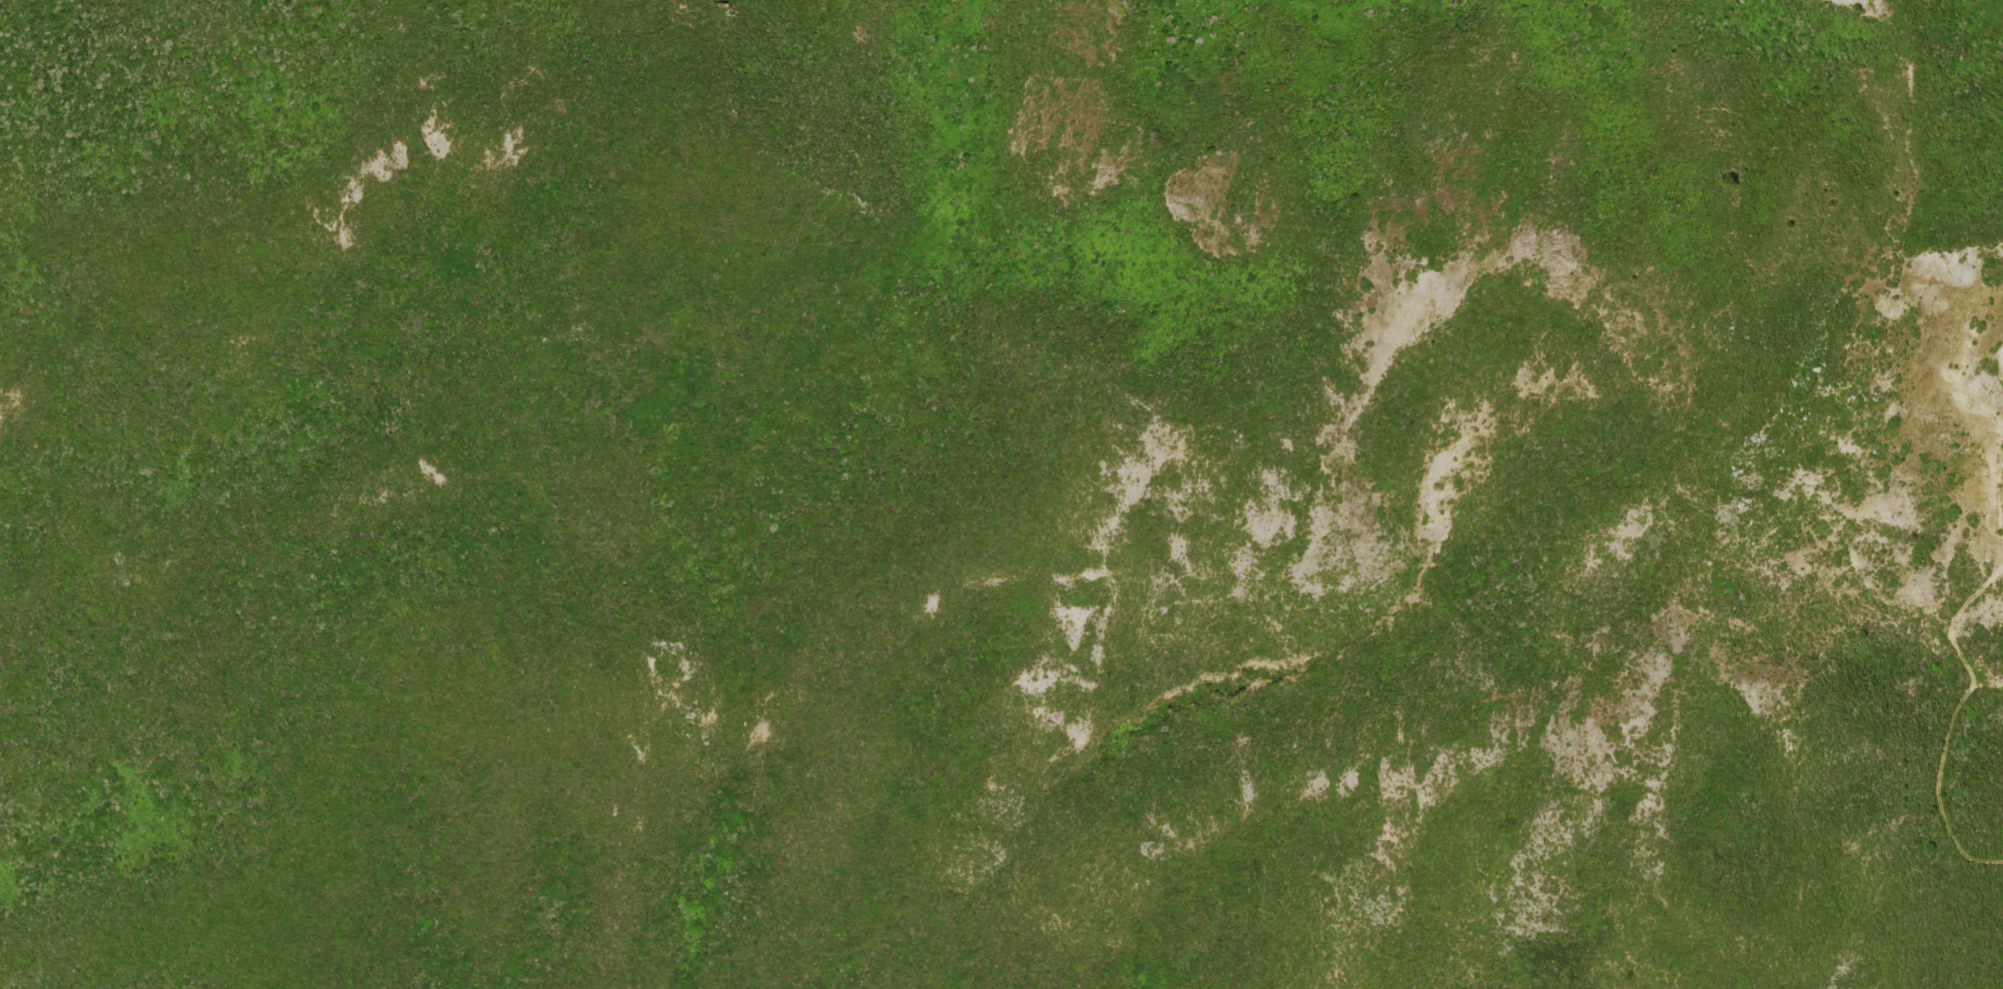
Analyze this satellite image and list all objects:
park: (1001, 494)
road: (1955, 716)

